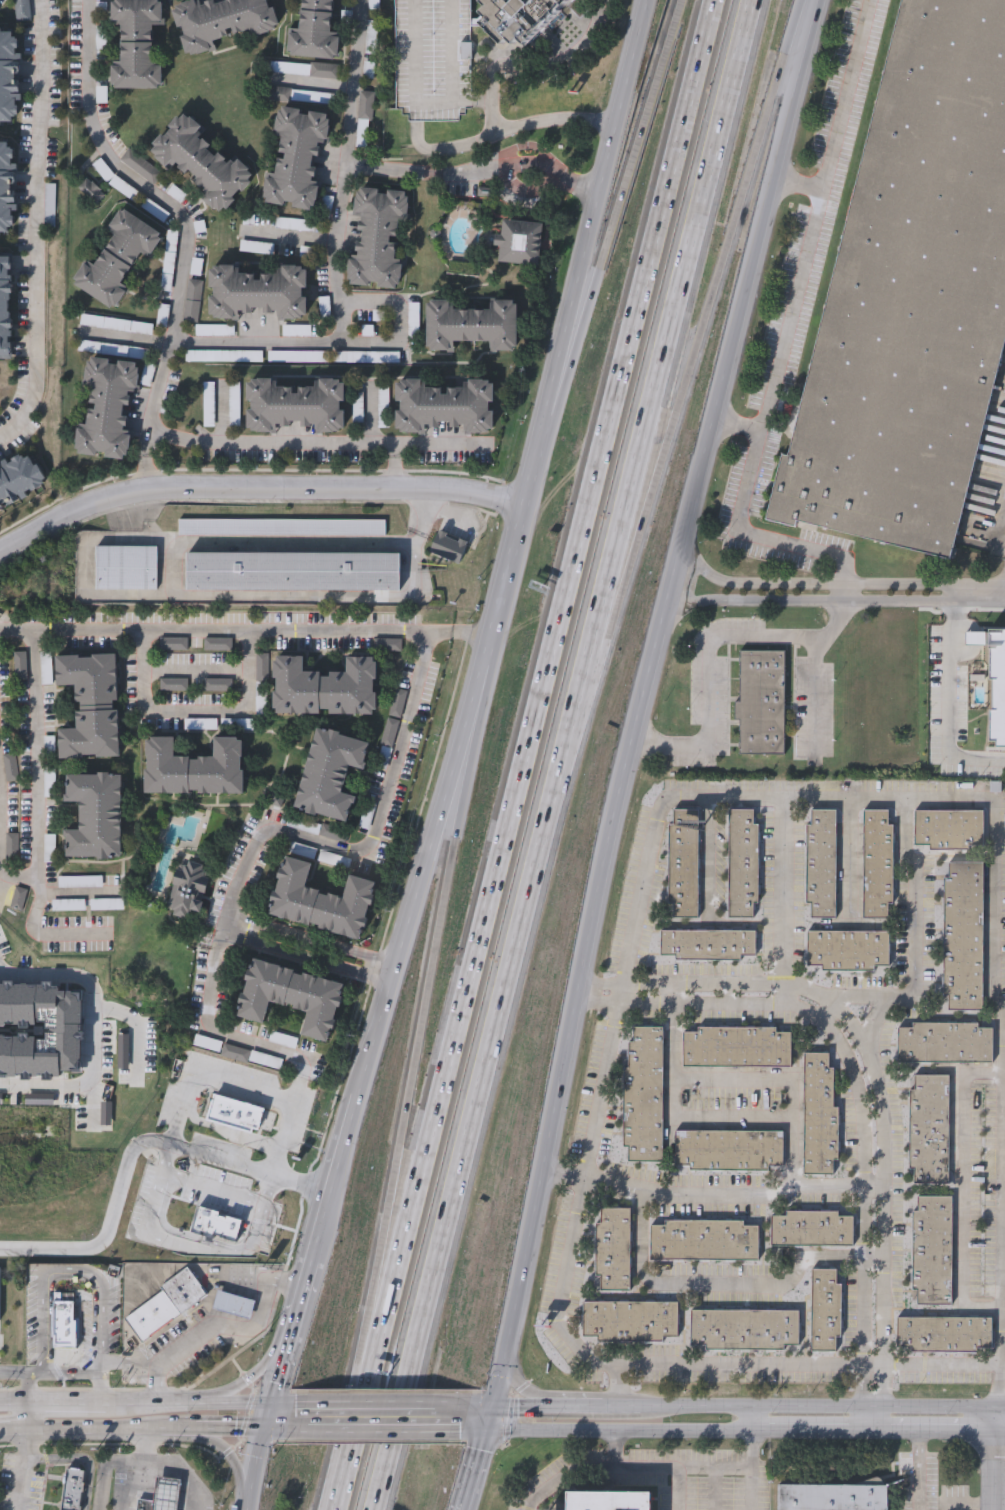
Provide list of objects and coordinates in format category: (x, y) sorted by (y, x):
building: (21, 11)
building: (519, 17)
building: (223, 19)
building: (315, 31)
building: (136, 43)
building: (433, 59)
parking lot: (433, 59)
building: (10, 76)
road: (314, 83)
road: (489, 88)
road: (848, 96)
building: (298, 157)
building: (204, 161)
road: (630, 165)
road: (475, 170)
road: (133, 176)
road: (769, 186)
building: (6, 188)
road: (595, 205)
road: (37, 226)
road: (290, 237)
building: (379, 237)
building: (519, 240)
building: (121, 255)
road: (336, 255)
road: (714, 284)
road: (801, 286)
building: (259, 290)
building: (911, 297)
building: (6, 307)
road: (400, 316)
building: (472, 324)
road: (669, 326)
road: (127, 336)
road: (564, 372)
road: (159, 383)
building: (295, 404)
building: (445, 405)
building: (107, 407)
road: (148, 441)
road: (315, 444)
road: (536, 458)
road: (402, 466)
road: (148, 475)
building: (20, 480)
road: (255, 488)
road: (426, 514)
road: (453, 514)
road: (741, 525)
building: (282, 526)
building: (448, 546)
building: (126, 567)
road: (173, 568)
building: (292, 570)
road: (504, 583)
road: (1003, 595)
road: (836, 596)
road: (375, 597)
road: (608, 611)
road: (456, 633)
road: (419, 638)
road: (708, 650)
road: (197, 669)
road: (144, 672)
road: (249, 672)
road: (545, 674)
building: (326, 688)
building: (997, 688)
road: (815, 695)
building: (761, 700)
road: (949, 702)
building: (398, 704)
building: (91, 705)
road: (478, 710)
road: (196, 713)
road: (37, 756)
building: (196, 767)
building: (330, 772)
road: (719, 797)
road: (943, 798)
building: (94, 814)
building: (949, 829)
road: (2, 836)
building: (15, 847)
road: (716, 854)
road: (854, 858)
building: (684, 863)
building: (743, 863)
building: (822, 863)
building: (877, 863)
road: (914, 873)
road: (419, 879)
road: (602, 890)
building: (187, 891)
road: (81, 895)
building: (21, 900)
building: (319, 900)
building: (70, 907)
road: (224, 926)
building: (963, 934)
road: (47, 935)
road: (311, 940)
building: (708, 943)
building: (848, 949)
road: (305, 959)
road: (55, 976)
road: (699, 980)
road: (599, 982)
road: (615, 993)
road: (783, 993)
building: (292, 998)
road: (858, 998)
road: (595, 1003)
road: (698, 1004)
road: (424, 1005)
road: (827, 1011)
road: (243, 1039)
building: (282, 1041)
building: (945, 1041)
building: (737, 1046)
building: (239, 1051)
road: (752, 1078)
road: (481, 1081)
road: (243, 1086)
road: (87, 1093)
building: (644, 1093)
road: (963, 1097)
building: (241, 1104)
road: (595, 1107)
road: (862, 1112)
building: (819, 1113)
road: (774, 1122)
building: (929, 1129)
road: (133, 1147)
building: (729, 1149)
road: (884, 1174)
road: (332, 1176)
road: (158, 1186)
road: (213, 1186)
road: (631, 1186)
road: (828, 1186)
road: (873, 1186)
road: (1001, 1189)
road: (262, 1209)
building: (219, 1213)
building: (812, 1228)
road: (192, 1235)
building: (704, 1240)
road: (197, 1246)
building: (613, 1248)
building: (932, 1249)
road: (872, 1258)
road: (69, 1269)
road: (302, 1290)
building: (0, 1293)
road: (378, 1303)
building: (167, 1304)
building: (234, 1304)
building: (825, 1310)
building: (630, 1319)
building: (64, 1325)
road: (236, 1326)
building: (744, 1328)
road: (862, 1334)
building: (944, 1334)
road: (279, 1363)
road: (742, 1364)
road: (872, 1364)
road: (941, 1364)
road: (143, 1368)
road: (14, 1373)
road: (63, 1373)
road: (246, 1382)
road: (521, 1386)
road: (64, 1402)
road: (136, 1402)
road: (13, 1403)
road: (219, 1405)
road: (279, 1406)
traffic signals: (267, 1407)
road: (380, 1407)
road: (481, 1408)
road: (524, 1408)
road: (590, 1408)
road: (633, 1408)
traffic signals: (492, 1409)
road: (818, 1409)
road: (1001, 1410)
road: (28, 1417)
road: (265, 1417)
road: (488, 1420)
road: (868, 1420)
road: (99, 1428)
road: (183, 1428)
road: (229, 1428)
traffic signals: (263, 1428)
road: (276, 1428)
road: (356, 1429)
road: (370, 1429)
road: (467, 1430)
traffic signals: (484, 1431)
road: (14, 1432)
road: (617, 1432)
road: (809, 1432)
road: (933, 1432)
road: (1001, 1432)
road: (227, 1453)
road: (997, 1459)
road: (106, 1467)
road: (168, 1467)
road: (711, 1467)
road: (253, 1468)
road: (580, 1469)
road: (22, 1470)
road: (472, 1470)
road: (919, 1471)
road: (135, 1484)
road: (716, 1488)
road: (751, 1488)
building: (73, 1489)
road: (680, 1489)
gas station: (167, 1495)
building: (832, 1499)
building: (608, 1503)
building: (146, 1504)

